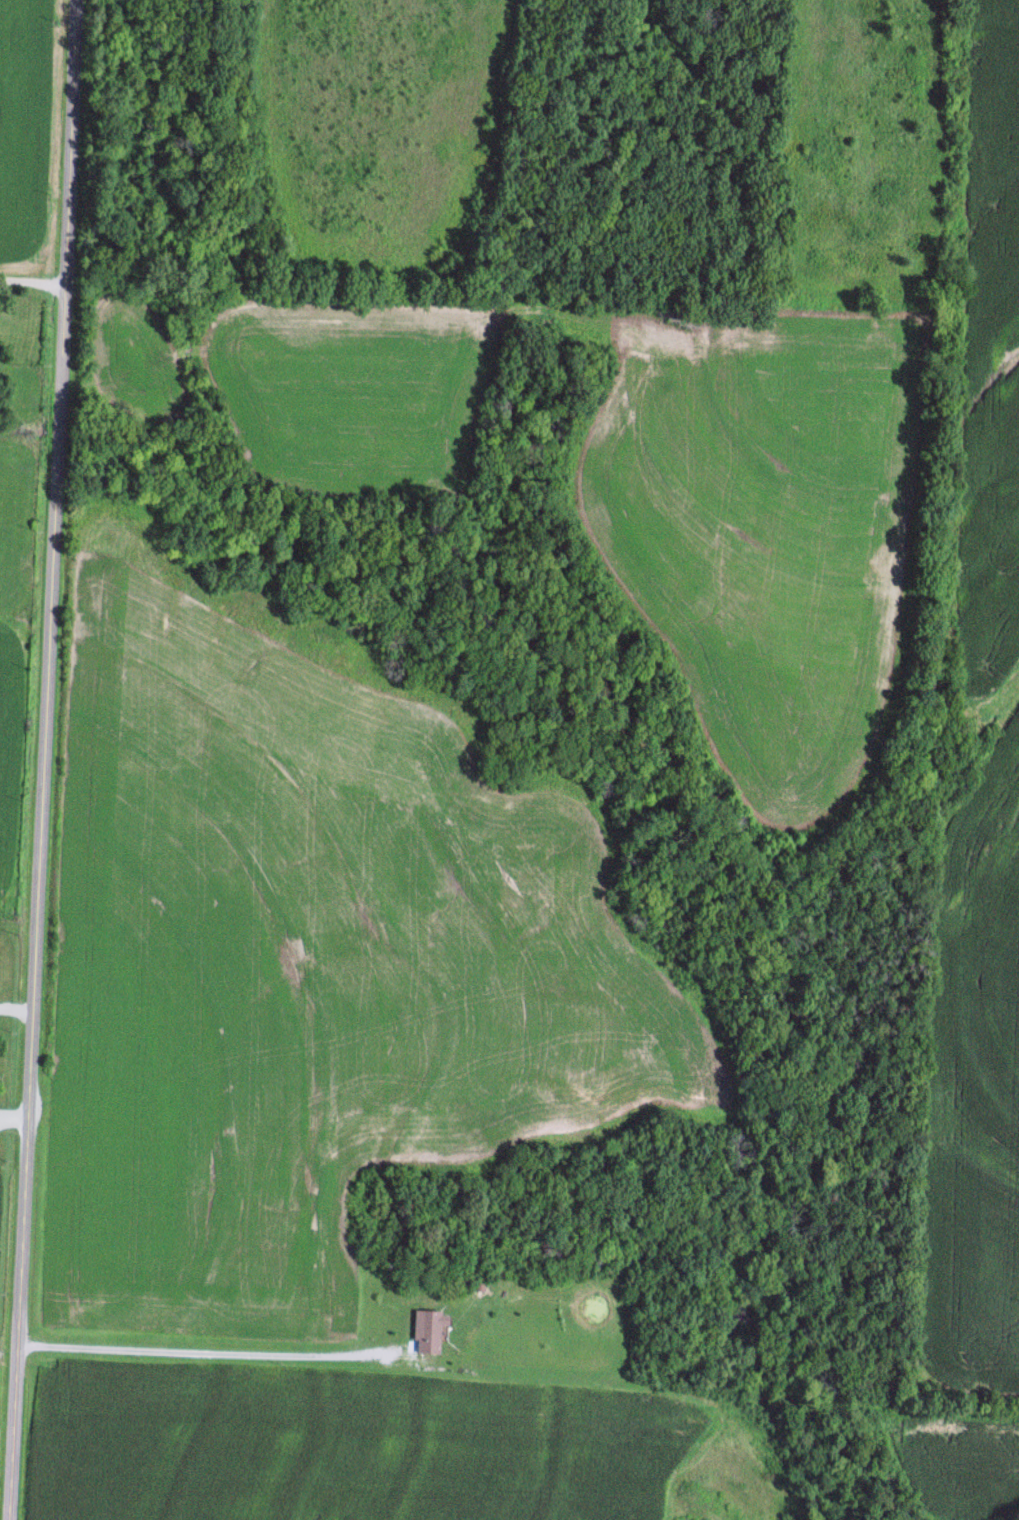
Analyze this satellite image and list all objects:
road: (31, 280)
road: (43, 760)
road: (206, 1351)

